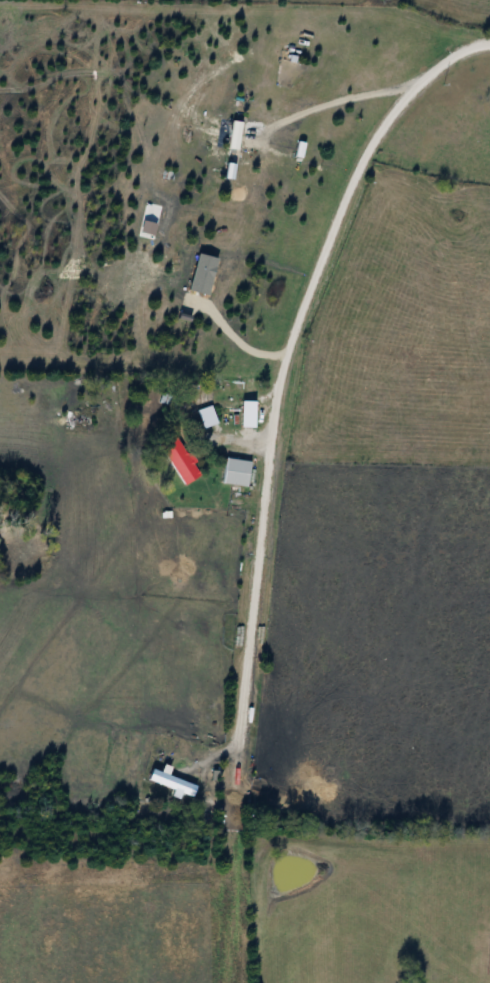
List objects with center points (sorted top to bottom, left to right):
road: (328, 101)
road: (275, 379)
building: (243, 419)
building: (175, 459)
building: (231, 472)

